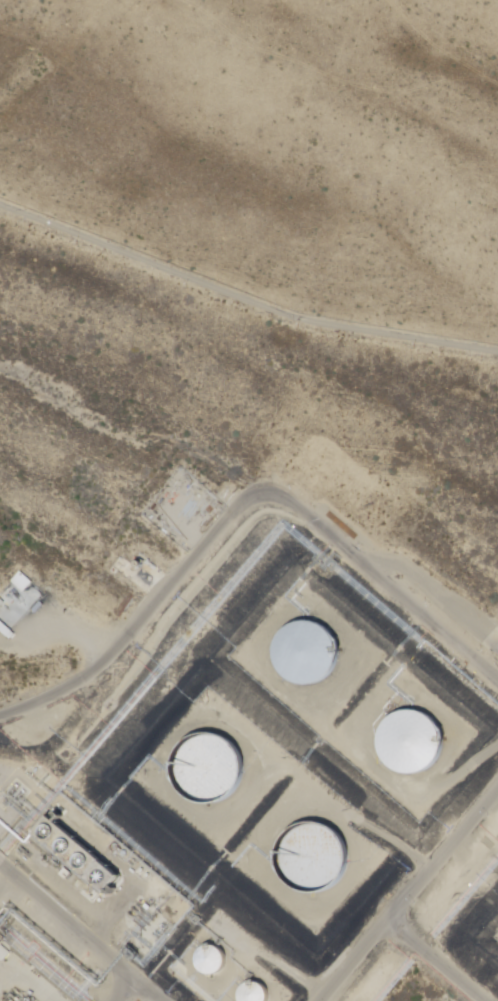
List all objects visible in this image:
road: (243, 298)
road: (243, 507)
building: (21, 582)
building: (1, 604)
building: (7, 632)
storage tank: (303, 651)
building: (298, 655)
storage tank: (407, 741)
building: (403, 742)
storage tank: (204, 766)
building: (205, 766)
storage tank: (308, 854)
building: (306, 861)
road: (447, 863)
road: (79, 933)
road: (402, 933)

